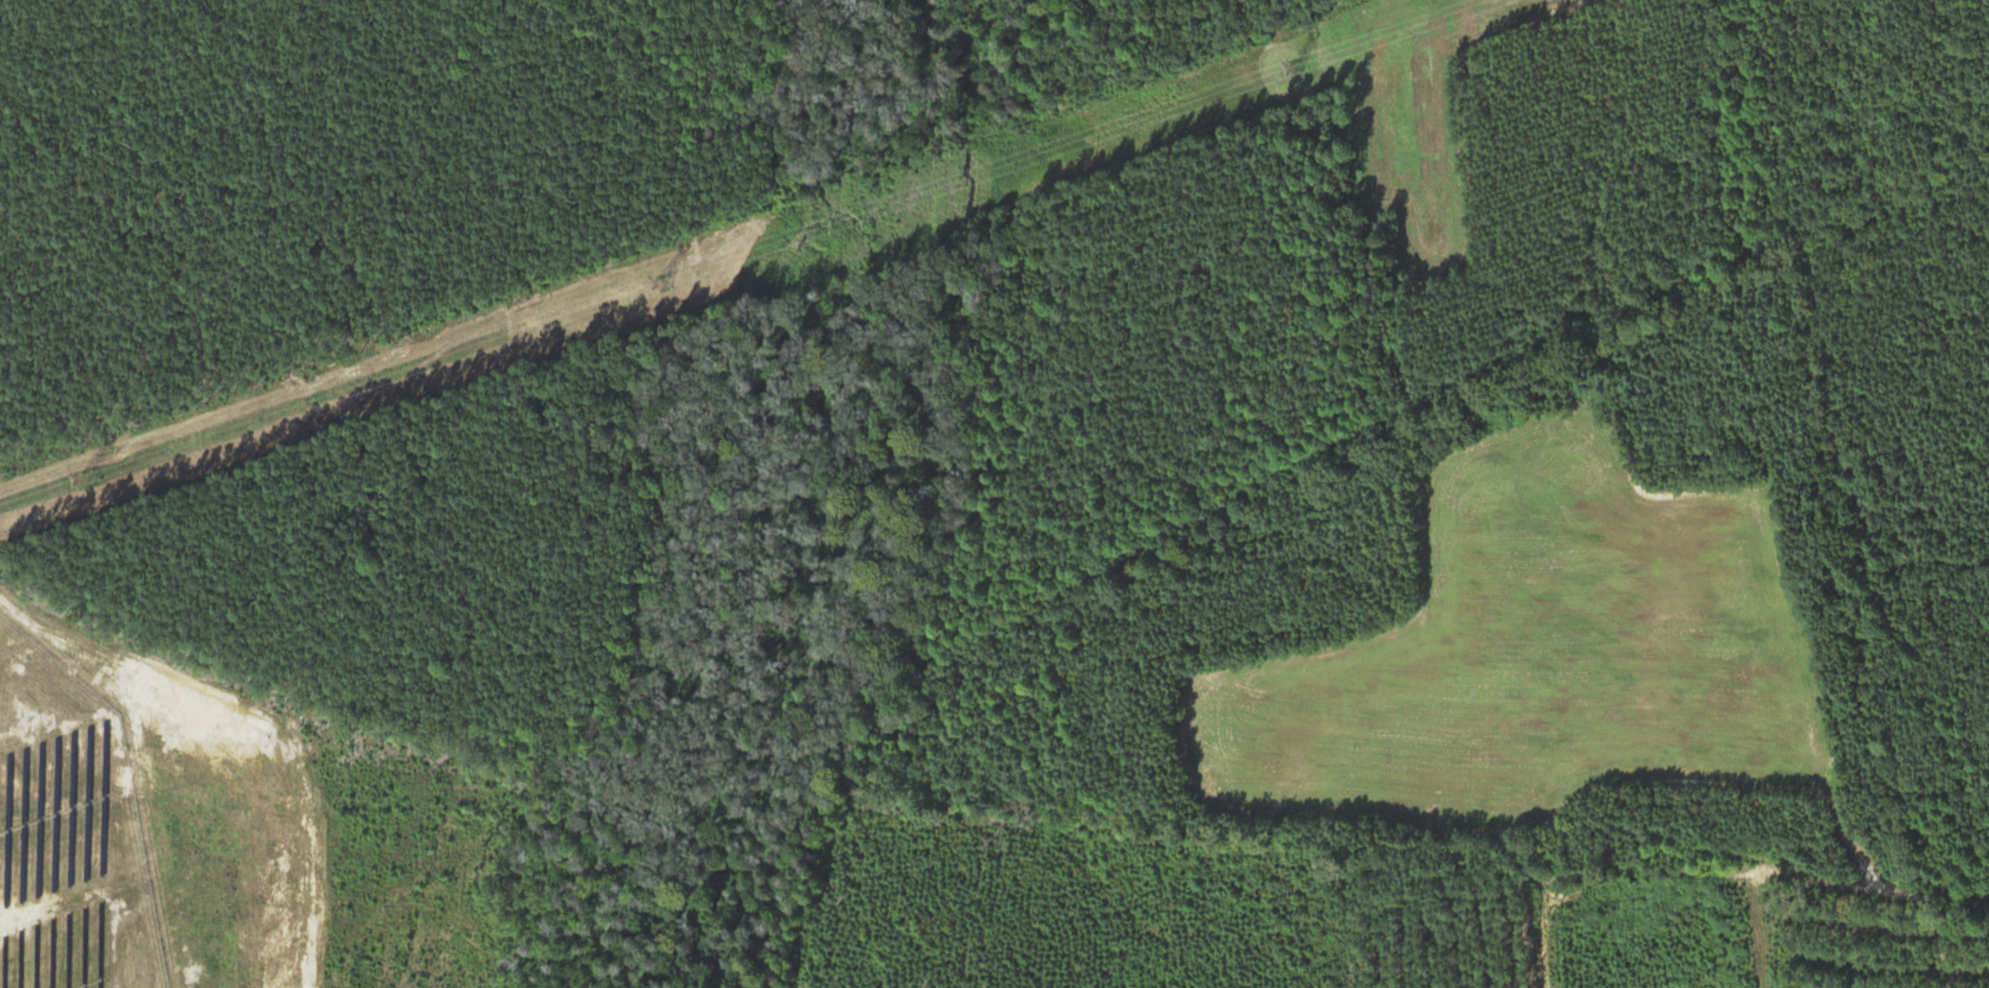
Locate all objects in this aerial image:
power tower: (870, 196)

